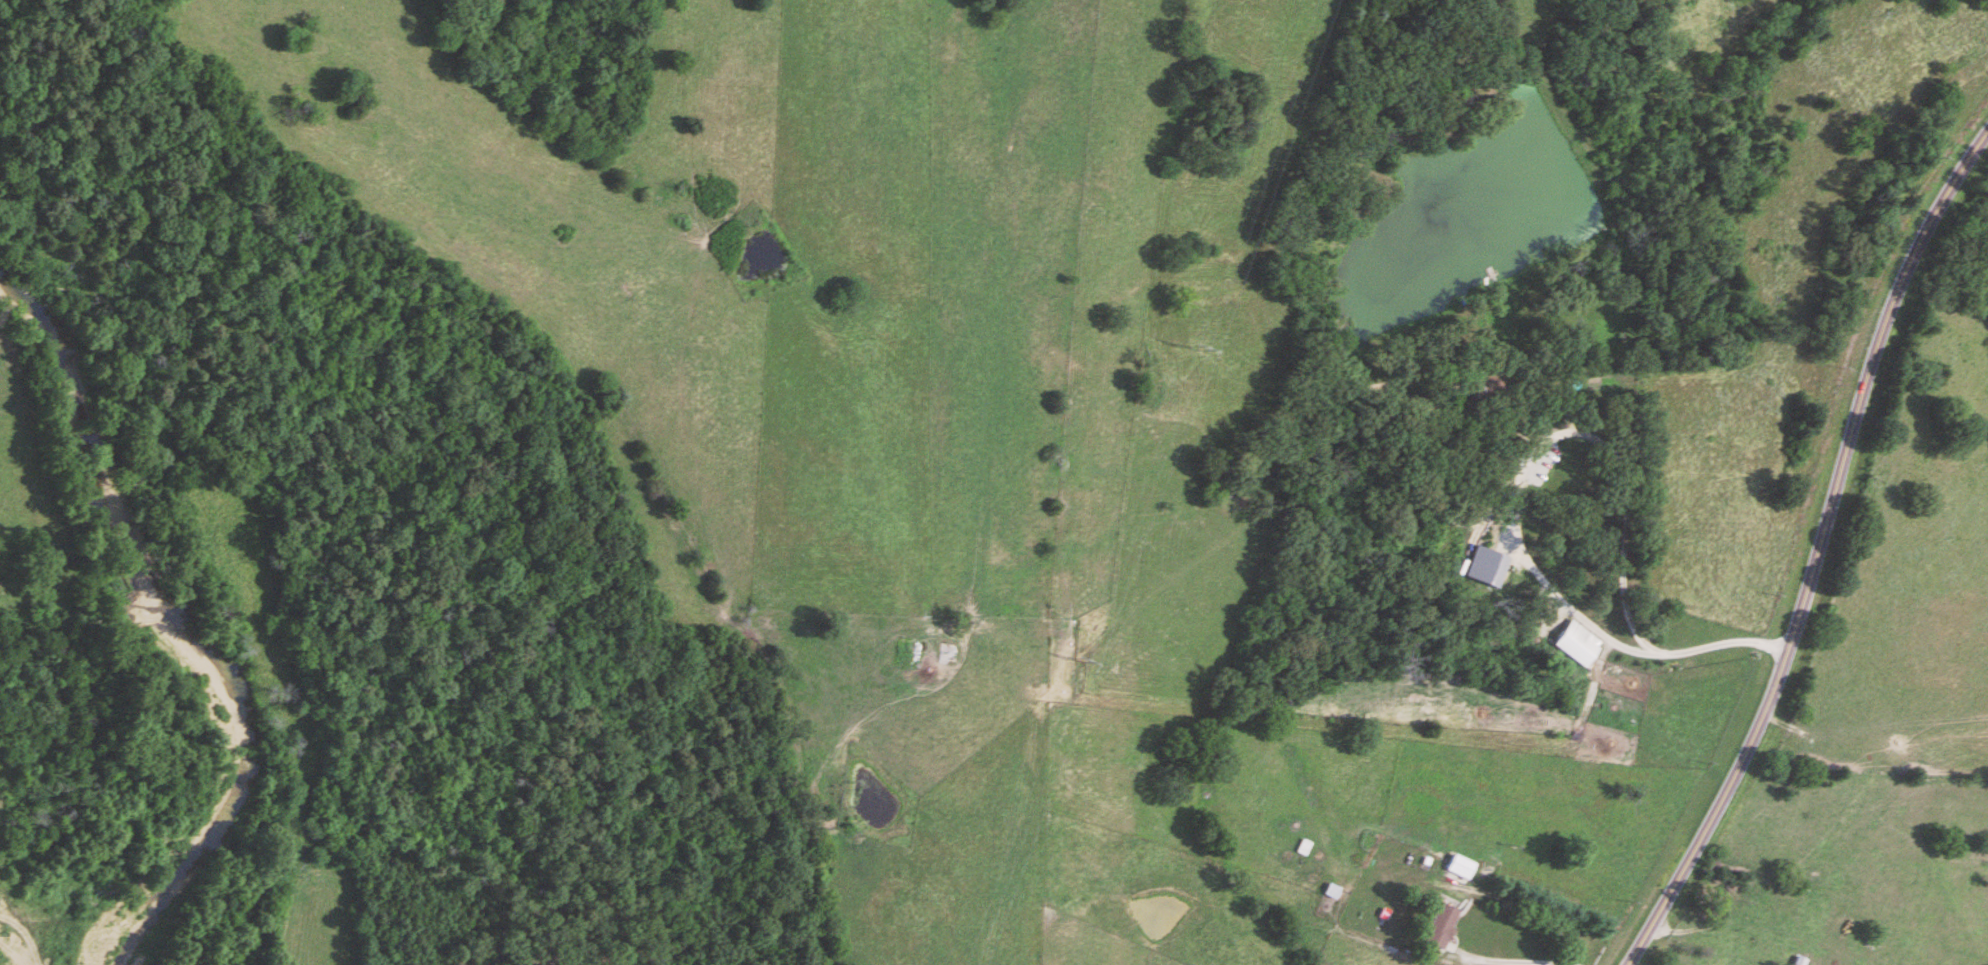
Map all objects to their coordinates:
power tower: (1197, 348)
road: (1514, 498)
road: (1817, 535)
building: (1578, 644)
power tower: (1078, 661)
building: (1462, 867)
building: (1443, 927)
road: (1511, 961)

